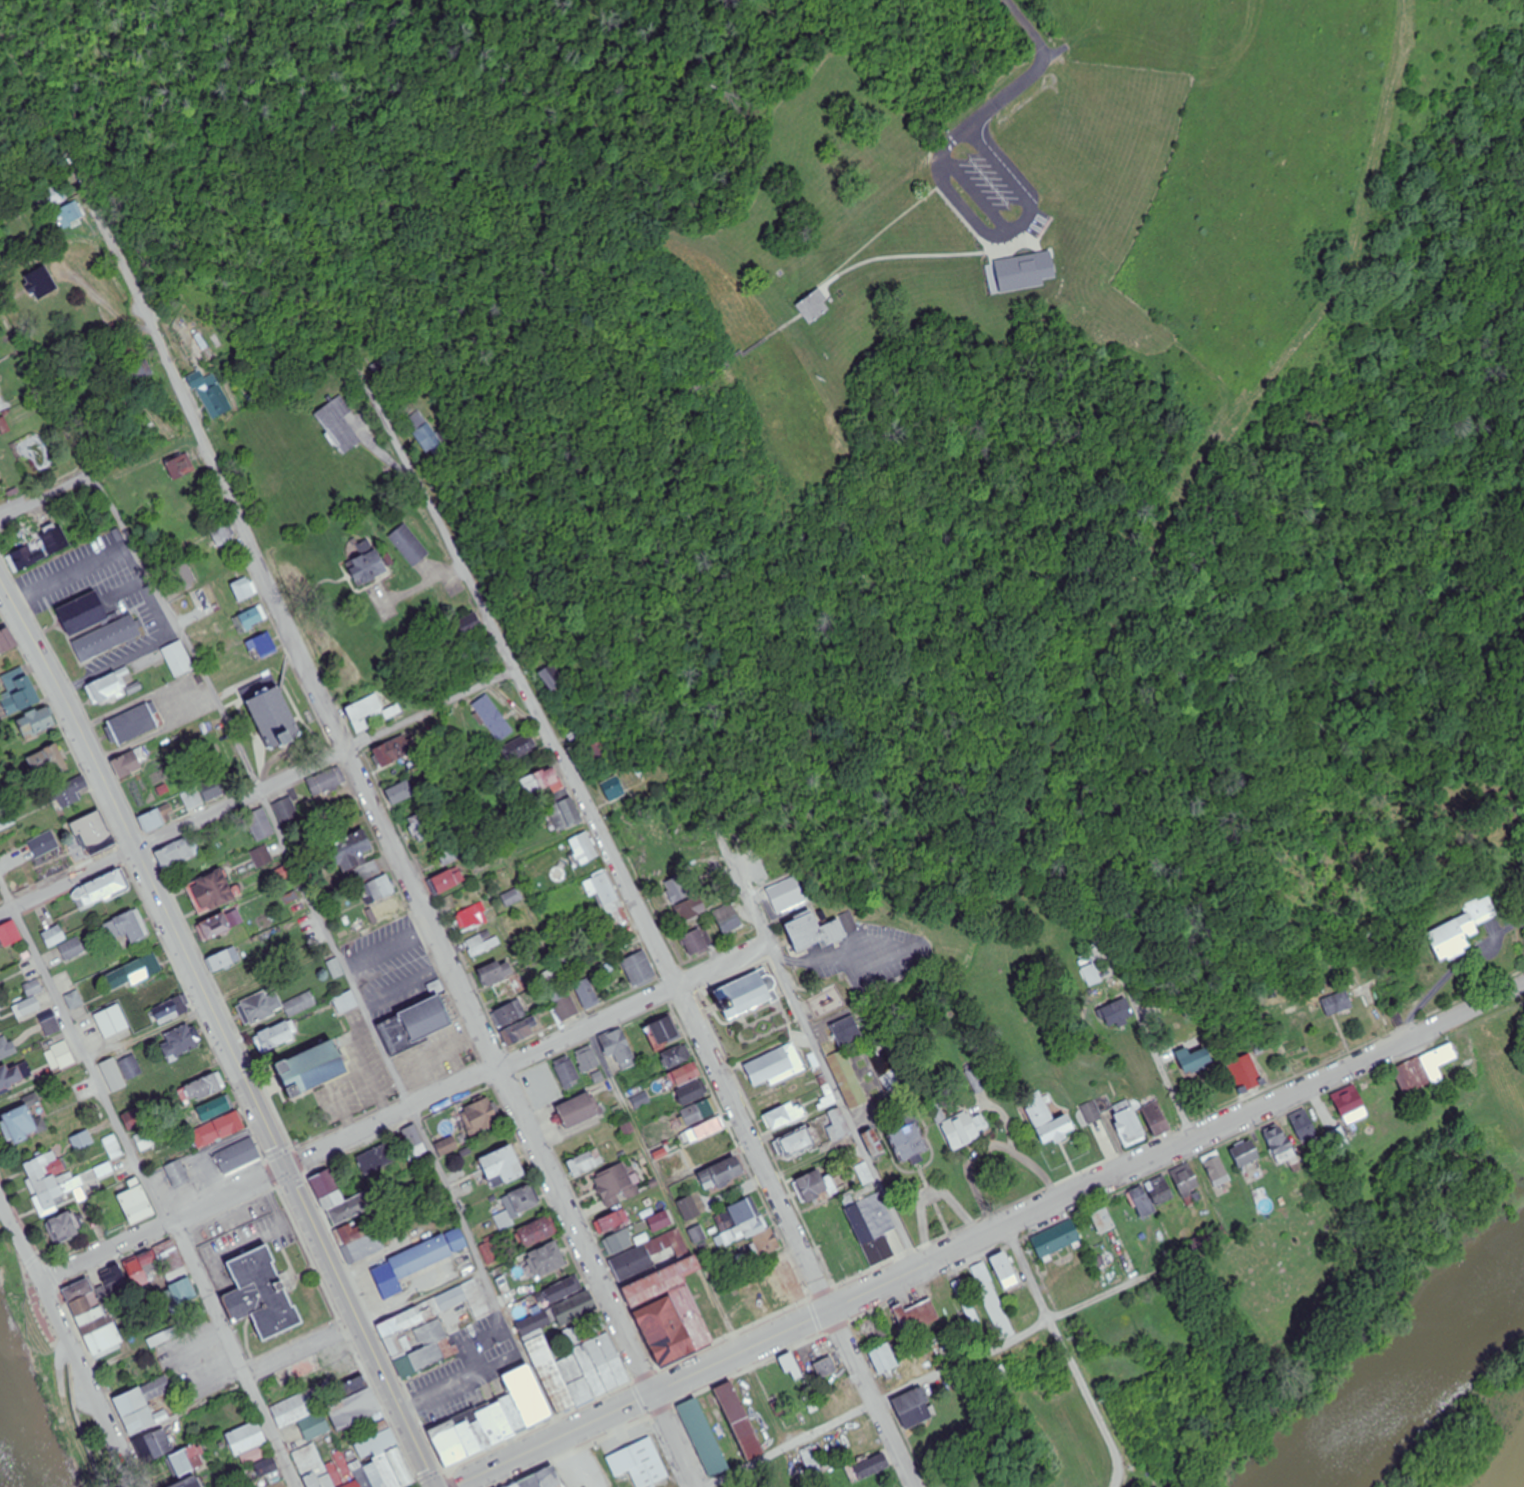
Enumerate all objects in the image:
road: (985, 111)
building: (53, 196)
parking lot: (968, 212)
building: (70, 215)
road: (880, 235)
building: (4, 244)
road: (998, 244)
building: (1017, 262)
park: (855, 280)
building: (40, 282)
building: (814, 302)
building: (195, 347)
building: (141, 372)
building: (210, 392)
building: (339, 424)
building: (2, 429)
building: (108, 445)
building: (180, 466)
road: (45, 496)
building: (223, 533)
building: (54, 538)
building: (409, 544)
building: (30, 554)
building: (367, 566)
building: (185, 575)
building: (243, 589)
building: (252, 618)
building: (94, 624)
building: (469, 625)
flagpole: (47, 626)
building: (6, 641)
building: (262, 646)
building: (178, 658)
building: (552, 677)
building: (111, 687)
building: (18, 692)
building: (272, 710)
building: (364, 713)
building: (493, 718)
building: (133, 722)
building: (36, 723)
road: (333, 724)
building: (521, 747)
building: (390, 753)
building: (597, 754)
building: (47, 762)
building: (130, 762)
building: (544, 781)
building: (325, 783)
building: (615, 789)
building: (70, 792)
building: (212, 792)
road: (260, 792)
building: (401, 793)
building: (285, 811)
building: (563, 815)
building: (151, 821)
building: (417, 821)
building: (261, 825)
building: (645, 829)
building: (93, 834)
building: (44, 844)
building: (584, 849)
building: (177, 852)
building: (354, 857)
road: (616, 863)
road: (293, 864)
building: (757, 864)
building: (452, 878)
building: (104, 886)
building: (674, 887)
building: (377, 889)
building: (210, 892)
building: (513, 898)
building: (607, 902)
building: (385, 910)
building: (688, 911)
building: (471, 918)
building: (728, 918)
building: (222, 924)
building: (126, 927)
building: (815, 930)
building: (1461, 930)
building: (9, 934)
park: (887, 935)
building: (54, 936)
building: (697, 942)
building: (483, 943)
building: (72, 949)
road: (388, 950)
building: (224, 960)
building: (639, 968)
building: (335, 969)
building: (496, 972)
building: (133, 973)
building: (1092, 975)
building: (231, 982)
road: (407, 989)
building: (506, 991)
building: (587, 994)
building: (747, 994)
building: (161, 1001)
building: (563, 1001)
building: (1338, 1003)
building: (273, 1007)
building: (27, 1009)
building: (1118, 1014)
building: (111, 1021)
building: (516, 1023)
building: (416, 1025)
building: (847, 1028)
building: (665, 1031)
road: (224, 1033)
building: (274, 1038)
building: (179, 1043)
building: (615, 1043)
building: (3, 1049)
building: (60, 1056)
building: (677, 1056)
building: (588, 1058)
road: (823, 1058)
building: (1194, 1059)
building: (1436, 1061)
building: (776, 1064)
building: (124, 1067)
building: (194, 1067)
building: (311, 1067)
road: (369, 1072)
building: (567, 1072)
building: (1246, 1072)
building: (686, 1074)
building: (1411, 1076)
building: (10, 1077)
building: (849, 1077)
building: (204, 1087)
building: (547, 1087)
building: (692, 1092)
road: (336, 1093)
building: (642, 1100)
building: (1350, 1104)
building: (214, 1108)
building: (578, 1109)
building: (699, 1111)
road: (408, 1112)
building: (785, 1115)
building: (481, 1116)
building: (1157, 1118)
building: (1118, 1119)
building: (1048, 1121)
building: (19, 1122)
building: (838, 1125)
building: (1305, 1127)
building: (218, 1130)
building: (963, 1130)
flagpole: (298, 1136)
building: (1338, 1137)
building: (908, 1140)
building: (82, 1141)
building: (145, 1141)
building: (703, 1141)
building: (797, 1142)
building: (872, 1142)
building: (412, 1143)
building: (1281, 1145)
building: (446, 1146)
building: (113, 1147)
building: (1246, 1153)
building: (238, 1154)
building: (378, 1159)
building: (586, 1163)
building: (502, 1167)
building: (1217, 1169)
building: (104, 1170)
building: (179, 1172)
building: (721, 1173)
building: (865, 1174)
building: (52, 1179)
road: (149, 1180)
building: (1186, 1180)
building: (616, 1186)
building: (816, 1187)
building: (328, 1188)
building: (1161, 1191)
building: (524, 1199)
building: (134, 1200)
building: (1143, 1201)
building: (354, 1208)
building: (503, 1221)
building: (614, 1221)
building: (1104, 1221)
building: (65, 1224)
building: (871, 1225)
building: (746, 1228)
building: (350, 1232)
building: (537, 1232)
building: (698, 1235)
building: (1056, 1237)
road: (986, 1238)
building: (620, 1241)
building: (366, 1245)
building: (841, 1252)
building: (545, 1260)
building: (413, 1263)
building: (631, 1264)
building: (1005, 1271)
building: (136, 1273)
building: (175, 1273)
building: (981, 1275)
building: (113, 1278)
building: (781, 1285)
building: (79, 1288)
building: (262, 1292)
building: (86, 1303)
building: (757, 1304)
building: (736, 1306)
building: (668, 1311)
building: (429, 1314)
building: (915, 1317)
building: (94, 1319)
building: (103, 1338)
road: (68, 1340)
building: (432, 1347)
road: (57, 1348)
road: (1068, 1351)
road: (303, 1353)
building: (883, 1358)
building: (606, 1360)
building: (790, 1366)
building: (588, 1368)
building: (825, 1368)
building: (552, 1374)
road: (931, 1374)
building: (575, 1379)
building: (768, 1383)
building: (352, 1387)
building: (527, 1395)
road: (875, 1399)
building: (911, 1400)
building: (143, 1404)
building: (299, 1407)
building: (352, 1409)
building: (512, 1413)
building: (918, 1415)
building: (739, 1418)
building: (316, 1423)
building: (494, 1423)
building: (703, 1435)
building: (245, 1437)
building: (472, 1437)
road: (674, 1440)
building: (447, 1442)
building: (155, 1444)
building: (376, 1445)
building: (189, 1459)
building: (312, 1462)
building: (639, 1462)
building: (811, 1462)
building: (399, 1467)
building: (870, 1467)
building: (265, 1468)
building: (342, 1470)
building: (386, 1471)
building: (360, 1474)
building: (373, 1474)
building: (550, 1478)
building: (321, 1481)
building: (529, 1482)
road: (1120, 1482)
building: (187, 1483)
building: (351, 1484)
building: (514, 1485)

